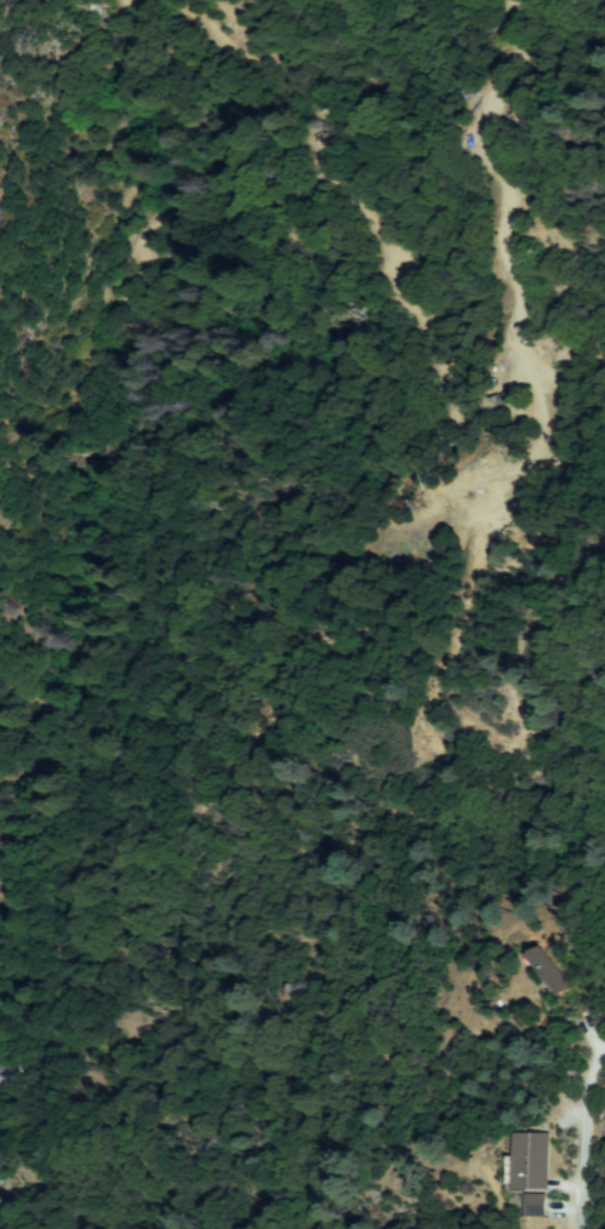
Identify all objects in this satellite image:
building: (549, 974)
building: (2, 1064)
building: (530, 1162)
building: (536, 1206)

